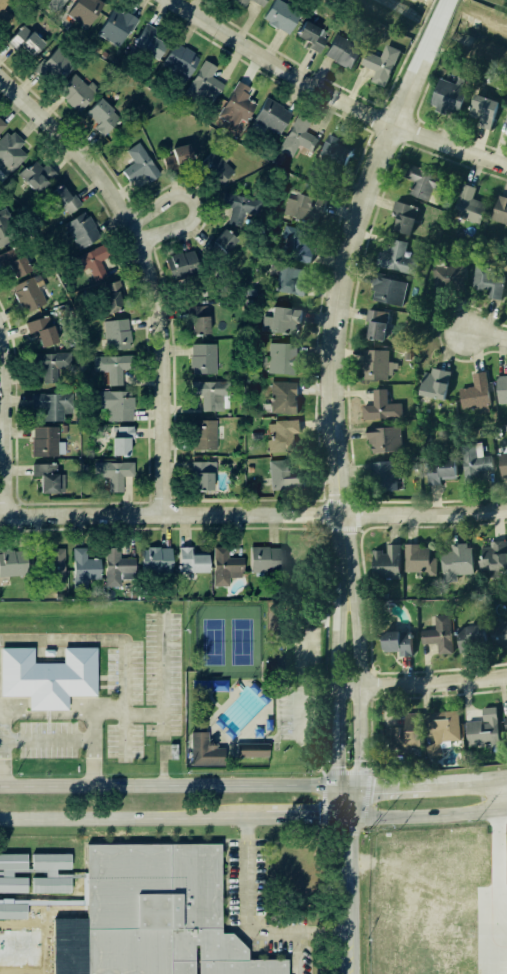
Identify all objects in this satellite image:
building: (259, 2)
building: (240, 3)
building: (56, 5)
building: (84, 11)
building: (5, 15)
building: (281, 16)
building: (116, 27)
building: (312, 36)
building: (25, 41)
building: (150, 42)
building: (342, 51)
building: (180, 61)
building: (381, 64)
building: (54, 67)
building: (204, 84)
building: (77, 92)
road: (334, 95)
building: (448, 96)
building: (237, 105)
building: (484, 110)
building: (505, 114)
building: (102, 116)
building: (271, 117)
building: (1, 126)
building: (297, 137)
building: (334, 151)
building: (10, 152)
building: (179, 157)
building: (139, 164)
building: (216, 168)
building: (37, 176)
building: (423, 182)
building: (66, 200)
road: (194, 204)
building: (468, 205)
building: (240, 207)
building: (305, 207)
building: (499, 209)
building: (404, 216)
building: (6, 229)
building: (82, 231)
building: (298, 242)
building: (222, 243)
building: (396, 258)
building: (14, 262)
building: (93, 262)
building: (181, 264)
road: (147, 270)
building: (448, 277)
building: (290, 280)
building: (488, 280)
building: (506, 289)
building: (388, 290)
building: (29, 294)
building: (110, 297)
building: (506, 307)
building: (199, 320)
building: (281, 321)
building: (376, 323)
building: (43, 330)
road: (484, 332)
building: (117, 334)
building: (203, 358)
building: (282, 358)
building: (377, 364)
building: (52, 366)
building: (116, 369)
building: (434, 383)
road: (339, 386)
building: (500, 388)
building: (476, 393)
building: (210, 394)
building: (283, 397)
building: (53, 405)
building: (117, 405)
building: (381, 407)
road: (5, 431)
building: (204, 435)
building: (282, 435)
building: (384, 439)
building: (121, 440)
building: (46, 442)
building: (474, 461)
building: (502, 462)
building: (441, 470)
building: (384, 473)
building: (114, 474)
building: (283, 476)
building: (48, 478)
road: (253, 513)
road: (297, 527)
road: (320, 528)
road: (323, 556)
building: (493, 558)
building: (265, 559)
building: (419, 559)
building: (156, 560)
building: (191, 561)
building: (386, 561)
building: (456, 561)
building: (13, 563)
building: (56, 567)
building: (117, 567)
building: (225, 567)
building: (84, 568)
road: (308, 620)
road: (323, 632)
building: (499, 633)
building: (438, 634)
building: (471, 637)
park: (223, 642)
building: (397, 642)
road: (304, 660)
road: (260, 668)
park: (262, 673)
building: (50, 675)
road: (426, 681)
road: (263, 682)
road: (271, 687)
parking lot: (299, 688)
road: (325, 688)
road: (323, 689)
road: (275, 691)
road: (271, 692)
road: (297, 711)
road: (47, 712)
road: (137, 712)
road: (276, 714)
building: (506, 722)
road: (163, 724)
building: (483, 728)
building: (442, 730)
road: (323, 733)
building: (406, 734)
road: (272, 736)
road: (277, 736)
road: (263, 739)
road: (269, 740)
road: (49, 741)
building: (250, 749)
building: (203, 750)
road: (4, 751)
road: (320, 771)
road: (344, 771)
road: (467, 785)
road: (387, 789)
road: (173, 790)
traffic signals: (347, 790)
road: (323, 800)
road: (426, 815)
road: (130, 818)
road: (303, 818)
traffic signals: (345, 818)
road: (495, 855)
building: (7, 873)
building: (51, 873)
road: (346, 881)
building: (2, 911)
building: (28, 912)
building: (160, 912)
road: (253, 920)
road: (58, 954)
road: (296, 955)

